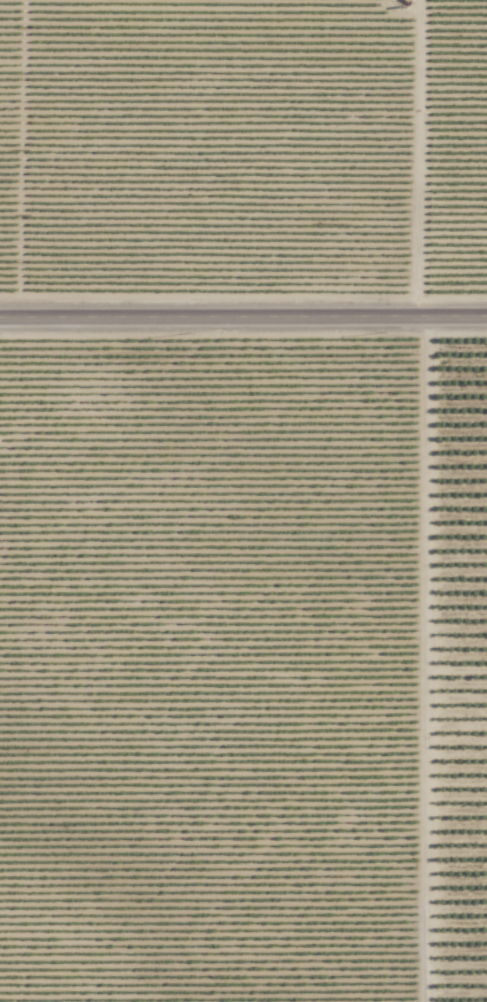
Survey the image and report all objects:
road: (243, 330)
road: (422, 500)

